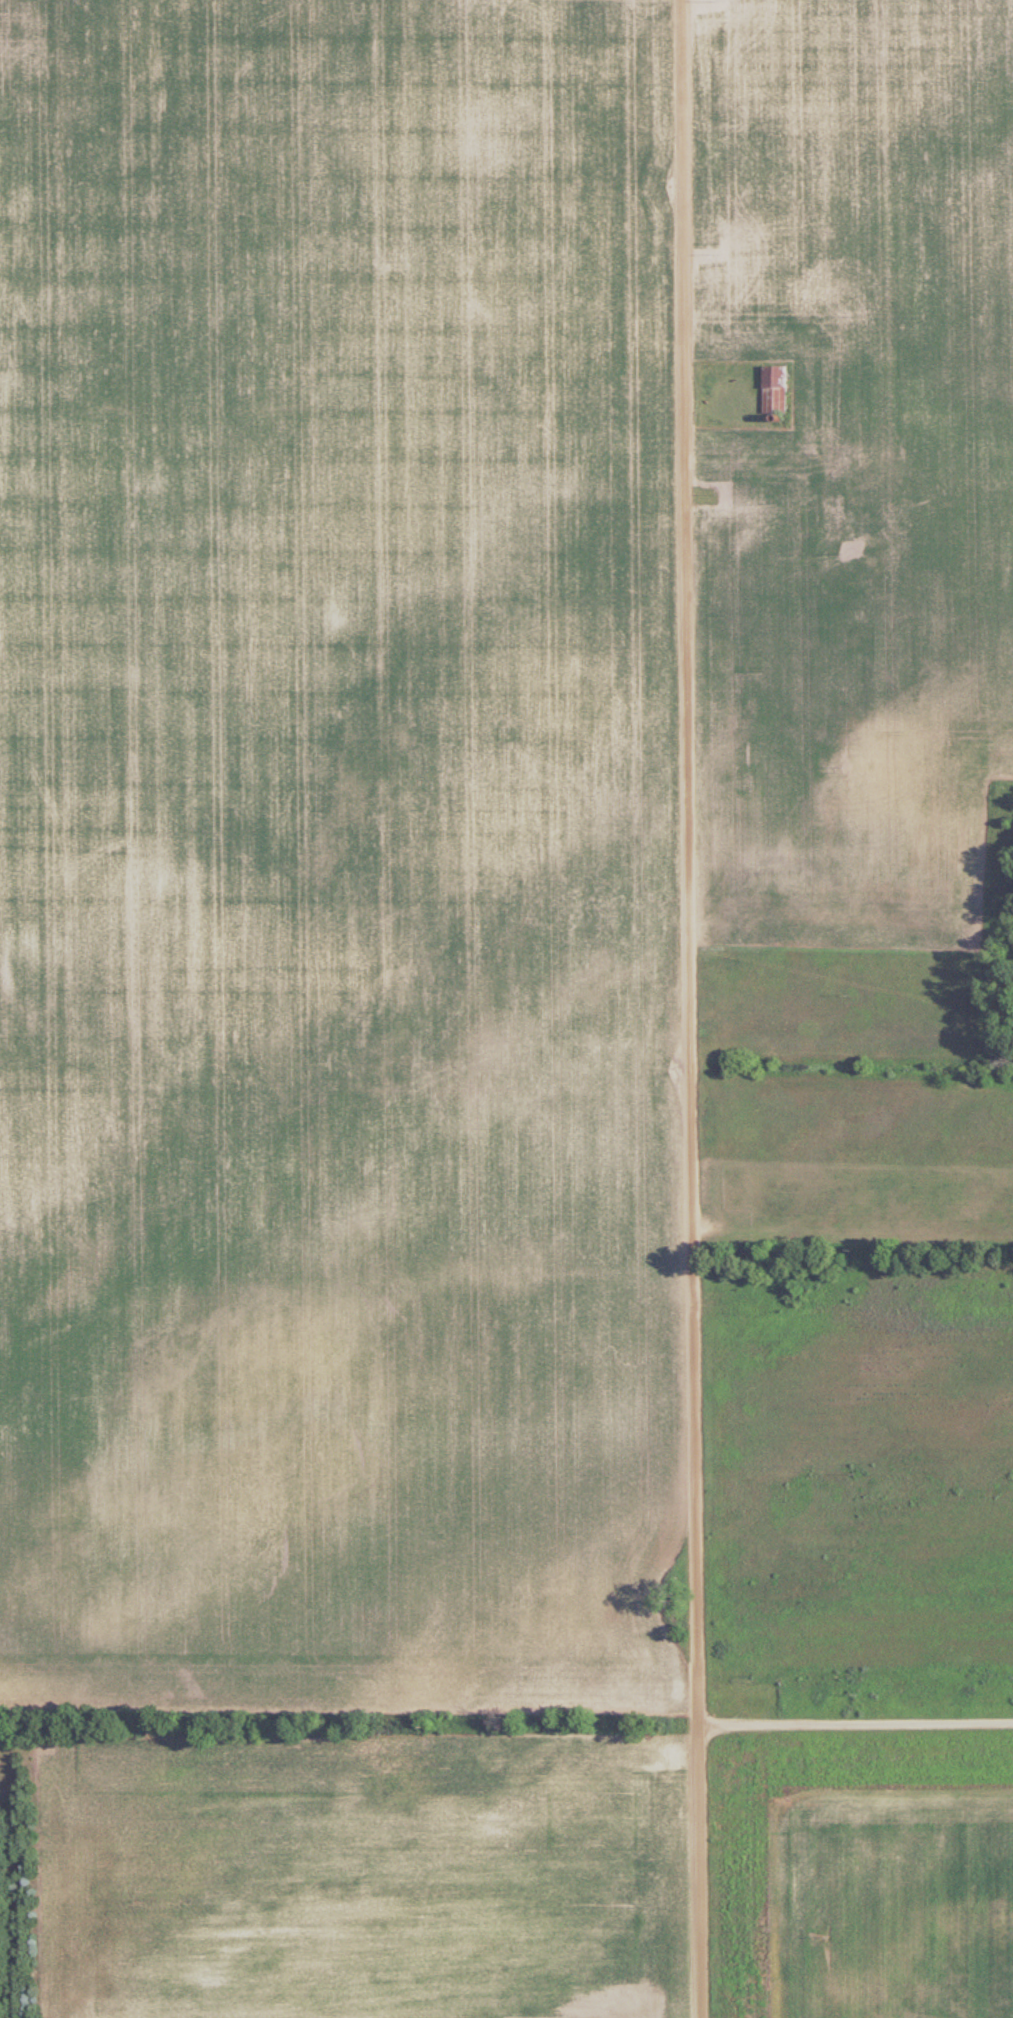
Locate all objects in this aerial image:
building: (774, 388)
road: (695, 1008)
road: (858, 1722)

